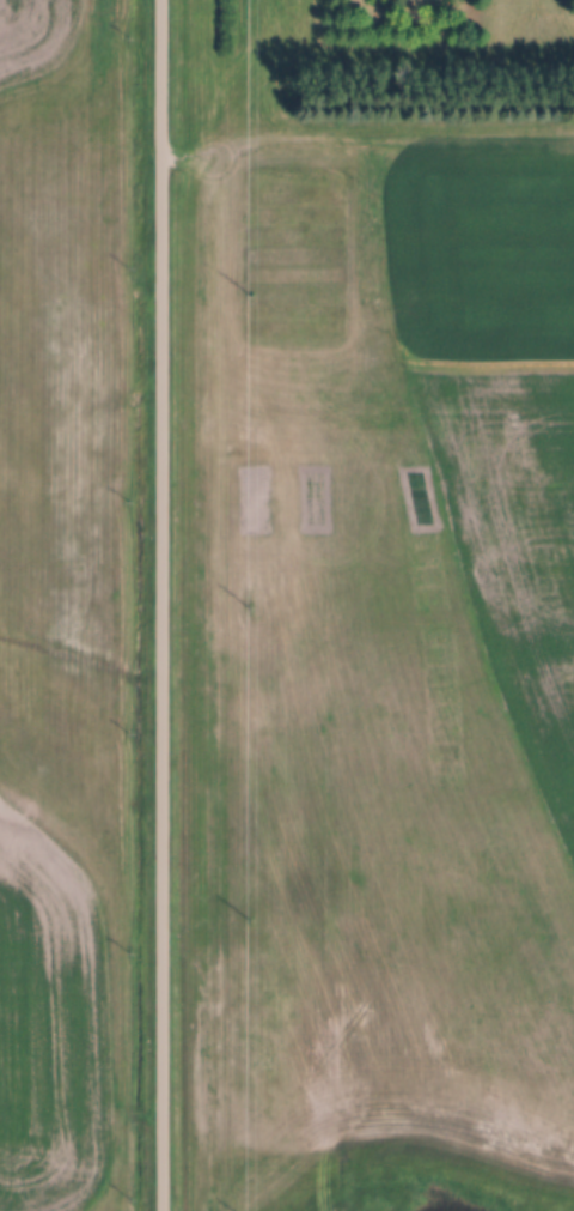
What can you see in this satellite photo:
road: (569, 28)
road: (408, 52)
road: (242, 111)
road: (408, 129)
road: (542, 400)
road: (164, 605)

